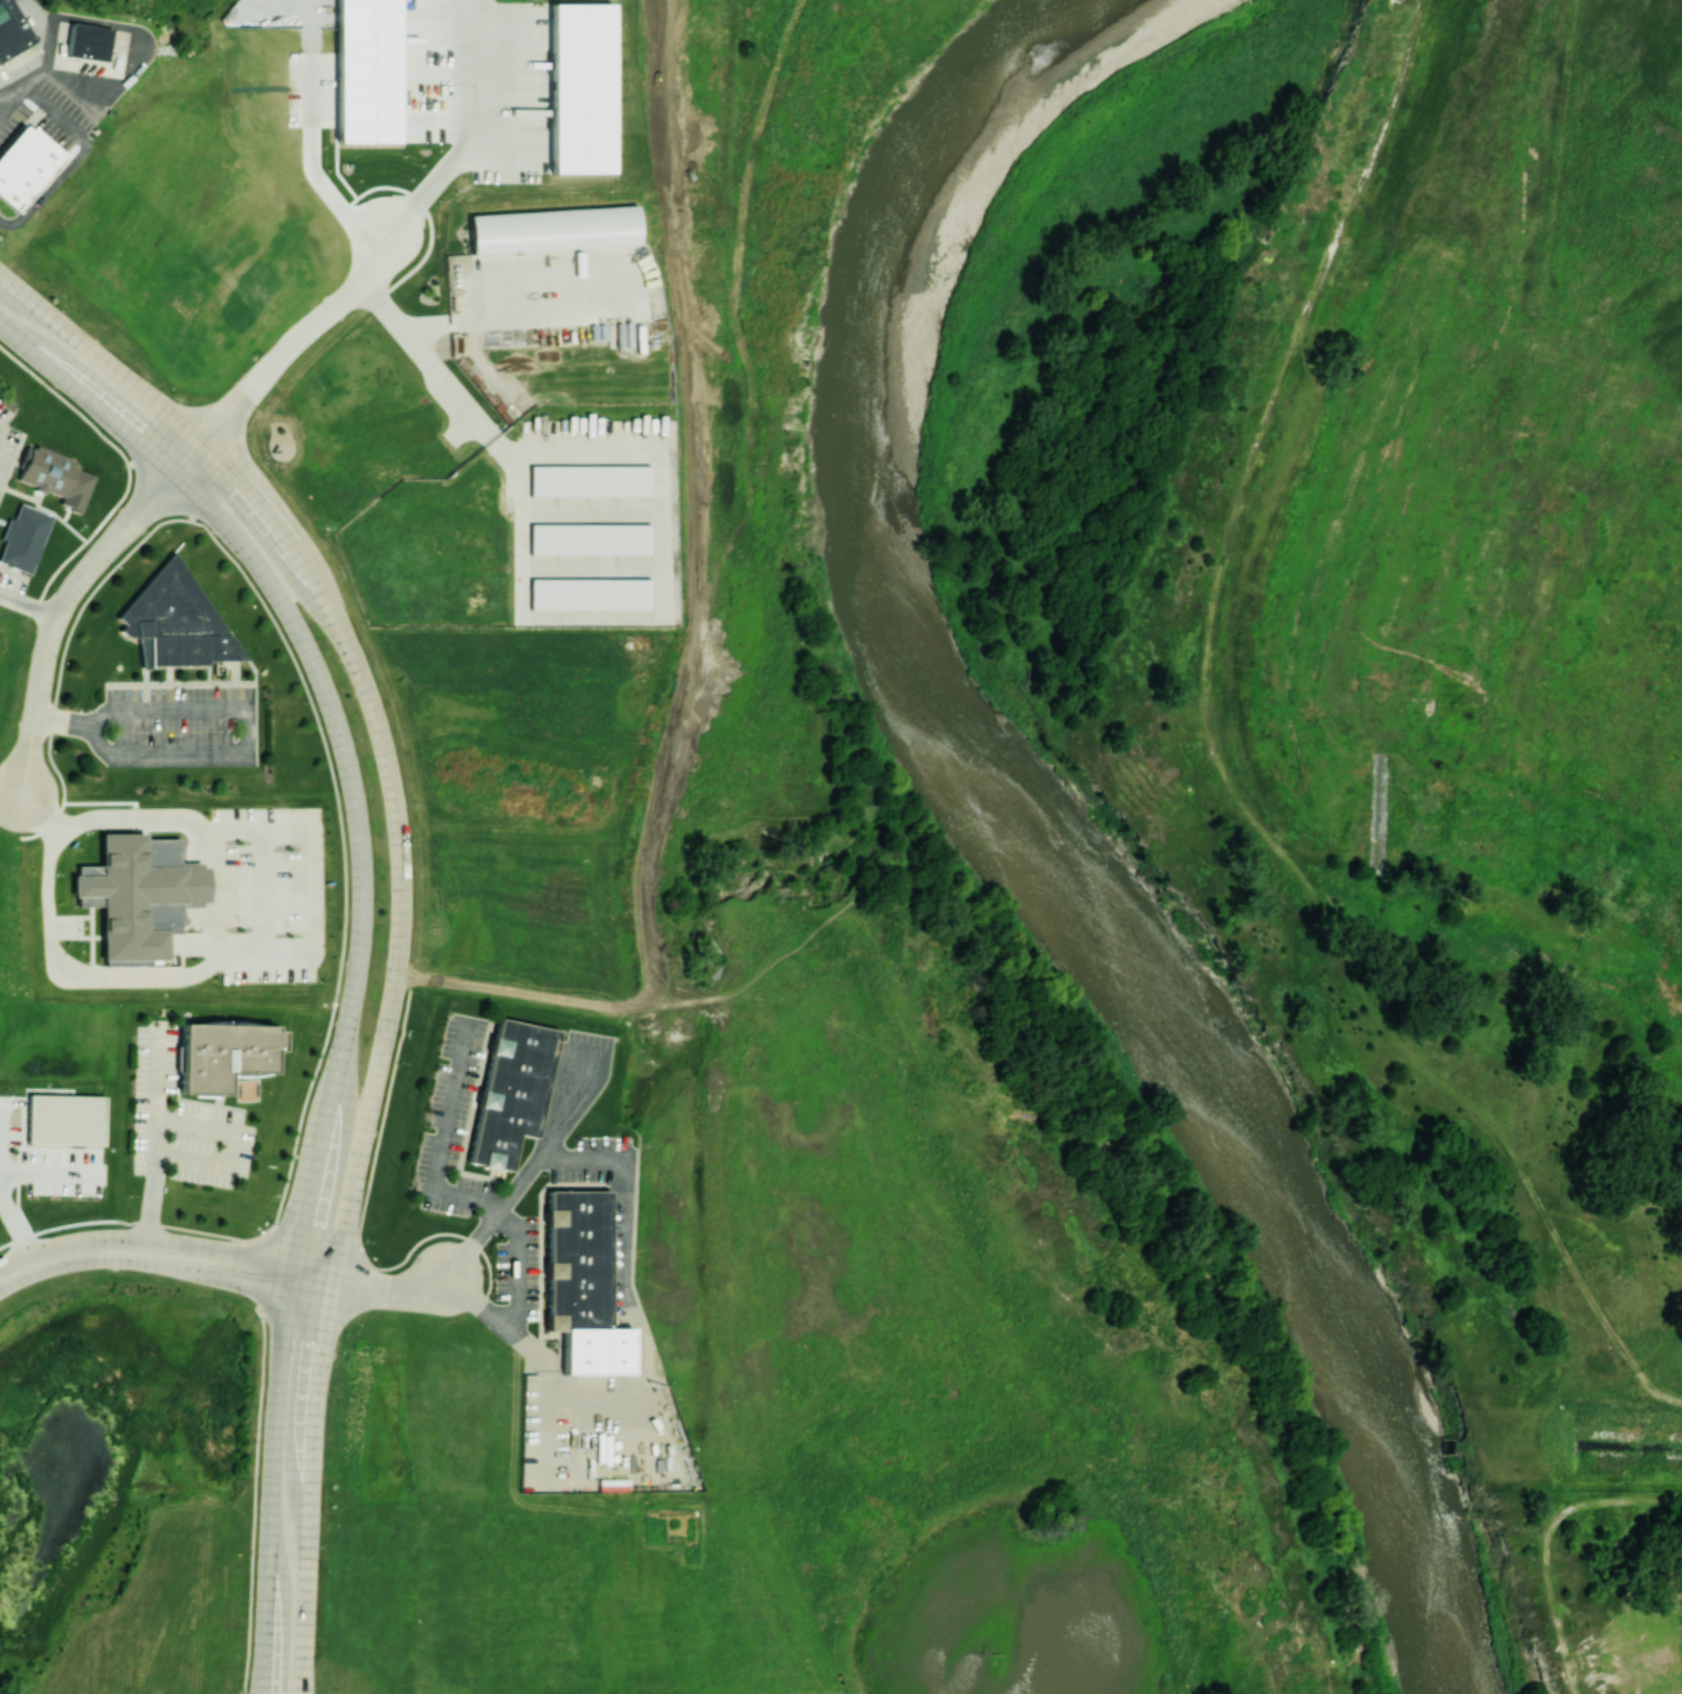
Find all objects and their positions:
building: (13, 31)
building: (91, 42)
building: (366, 70)
building: (585, 91)
road: (471, 131)
road: (312, 153)
building: (28, 167)
building: (555, 232)
road: (0, 274)
road: (473, 318)
road: (298, 340)
road: (434, 371)
street lamp: (30, 377)
street lamp: (175, 394)
building: (51, 471)
building: (588, 479)
building: (23, 535)
building: (589, 538)
building: (589, 594)
road: (68, 599)
road: (30, 603)
landfill: (1486, 605)
building: (177, 622)
road: (297, 630)
road: (349, 651)
road: (239, 711)
river: (1019, 836)
road: (213, 896)
building: (137, 898)
street lamp: (342, 929)
road: (309, 946)
building: (223, 1057)
street lamp: (399, 1065)
building: (509, 1091)
road: (333, 1092)
building: (67, 1119)
road: (156, 1139)
street lamp: (293, 1142)
road: (226, 1144)
road: (444, 1145)
road: (43, 1174)
road: (528, 1174)
street lamp: (132, 1197)
road: (310, 1201)
road: (12, 1222)
road: (346, 1222)
street lamp: (272, 1224)
road: (628, 1226)
street lamp: (366, 1243)
street lamp: (8, 1248)
road: (70, 1253)
road: (241, 1255)
road: (216, 1274)
street lamp: (136, 1275)
road: (295, 1276)
street lamp: (489, 1278)
building: (580, 1282)
road: (313, 1287)
road: (396, 1293)
road: (517, 1295)
road: (481, 1308)
street lamp: (258, 1319)
street lamp: (348, 1335)
road: (605, 1404)
road: (315, 1408)
road: (547, 1428)
street lamp: (253, 1441)
road: (271, 1489)
park: (1583, 1582)
road: (306, 1612)

